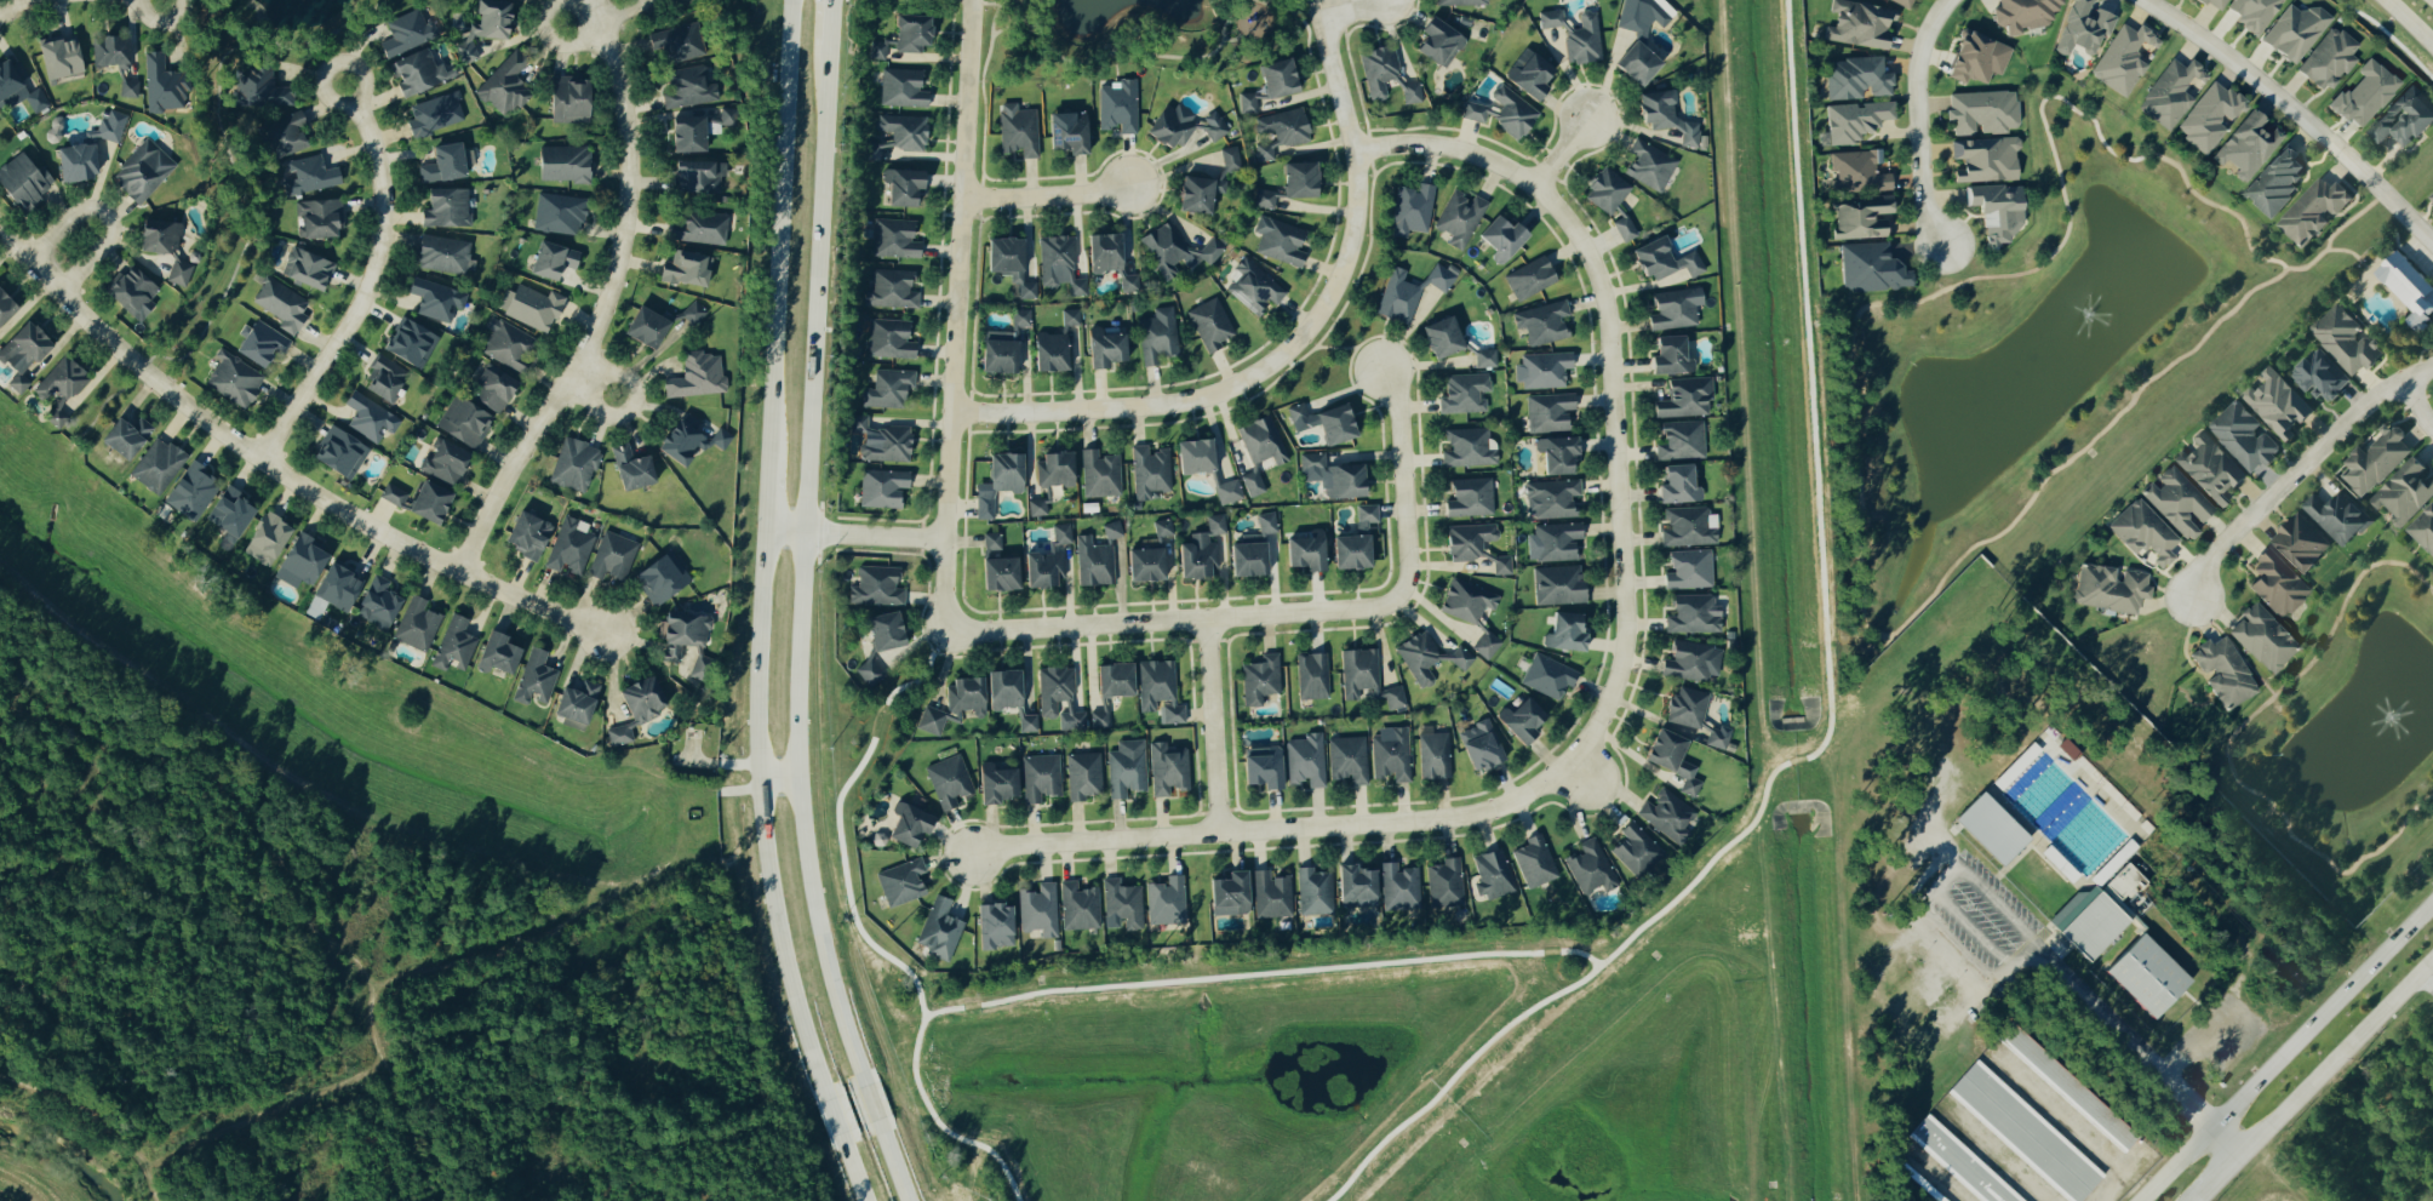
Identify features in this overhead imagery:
road: (155, 1)
building: (1461, 1)
building: (1904, 2)
road: (12, 4)
road: (1340, 4)
building: (2216, 4)
road: (595, 5)
road: (623, 10)
building: (2025, 13)
building: (2254, 13)
road: (578, 19)
road: (2410, 21)
building: (1860, 23)
building: (483, 27)
building: (2083, 27)
road: (794, 30)
road: (832, 30)
building: (2296, 30)
building: (406, 32)
building: (911, 33)
building: (1576, 34)
building: (1639, 36)
building: (1439, 41)
building: (677, 42)
building: (877, 48)
building: (110, 50)
building: (59, 57)
building: (1977, 57)
building: (2123, 58)
building: (2329, 58)
building: (1379, 69)
building: (417, 72)
building: (1529, 73)
building: (11, 75)
building: (1857, 76)
building: (1277, 78)
building: (161, 84)
building: (504, 84)
building: (259, 86)
building: (687, 86)
building: (128, 87)
building: (903, 87)
building: (1410, 91)
building: (2172, 91)
building: (2365, 93)
building: (568, 98)
building: (36, 99)
building: (1247, 102)
building: (1118, 105)
building: (1504, 111)
building: (1982, 111)
building: (435, 113)
road: (2294, 114)
building: (1665, 115)
building: (2210, 115)
building: (2404, 119)
road: (1917, 121)
building: (111, 125)
building: (1172, 125)
building: (1214, 126)
building: (1018, 128)
building: (904, 130)
building: (1067, 131)
building: (1280, 131)
building: (687, 133)
building: (285, 135)
building: (2248, 144)
building: (874, 149)
road: (1559, 154)
building: (1230, 158)
building: (1985, 159)
building: (75, 161)
building: (442, 162)
building: (563, 162)
building: (1650, 165)
building: (142, 170)
building: (1860, 170)
building: (310, 175)
building: (698, 176)
building: (1300, 178)
building: (22, 182)
building: (2275, 183)
building: (901, 185)
building: (1198, 193)
road: (1043, 195)
building: (1265, 198)
building: (1611, 199)
building: (2432, 202)
building: (445, 207)
building: (1412, 210)
building: (2313, 211)
building: (1997, 212)
road: (103, 213)
building: (559, 213)
building: (319, 217)
building: (1460, 217)
building: (1861, 217)
building: (700, 227)
building: (158, 236)
building: (894, 238)
building: (1501, 238)
building: (1280, 240)
building: (1164, 247)
building: (1210, 250)
building: (1104, 252)
building: (445, 253)
building: (551, 259)
building: (1664, 259)
building: (1009, 263)
building: (1059, 263)
building: (307, 268)
building: (685, 268)
building: (1872, 268)
building: (178, 271)
building: (1441, 276)
building: (1530, 278)
building: (1129, 282)
road: (366, 284)
building: (1253, 286)
building: (2409, 286)
building: (891, 288)
building: (132, 292)
building: (1398, 297)
building: (436, 298)
building: (281, 304)
building: (529, 305)
building: (5, 307)
road: (603, 307)
building: (1675, 308)
road: (954, 309)
building: (693, 311)
building: (1020, 316)
building: (1542, 322)
building: (1210, 324)
building: (645, 326)
building: (1158, 334)
building: (1442, 337)
building: (889, 338)
building: (2346, 339)
building: (261, 342)
building: (410, 343)
building: (506, 343)
road: (1295, 343)
building: (1054, 344)
building: (1106, 347)
building: (998, 350)
building: (22, 353)
building: (1671, 355)
building: (1485, 358)
building: (1544, 370)
building: (698, 374)
building: (2320, 376)
building: (383, 377)
building: (234, 378)
road: (1604, 378)
road: (591, 384)
building: (61, 387)
building: (888, 388)
building: (491, 389)
building: (1464, 393)
building: (1685, 396)
building: (2278, 404)
road: (2414, 404)
building: (1550, 411)
building: (1298, 412)
building: (370, 417)
building: (464, 422)
building: (1335, 424)
building: (125, 435)
building: (2244, 436)
building: (682, 437)
building: (720, 437)
building: (882, 440)
building: (1681, 440)
building: (1263, 442)
building: (1469, 447)
building: (338, 452)
building: (1557, 453)
building: (1195, 454)
building: (2376, 461)
building: (445, 462)
building: (156, 464)
building: (574, 464)
building: (630, 467)
building: (1054, 468)
building: (2210, 469)
road: (2296, 469)
road: (275, 470)
building: (1150, 471)
building: (1100, 473)
building: (1333, 475)
road: (1401, 480)
building: (998, 481)
building: (1253, 484)
building: (1678, 485)
building: (882, 487)
building: (191, 491)
building: (1229, 491)
building: (2404, 493)
building: (391, 494)
building: (1470, 497)
building: (1552, 498)
building: (428, 502)
building: (2179, 502)
building: (1037, 507)
building: (230, 514)
building: (1366, 515)
building: (2338, 517)
building: (1163, 527)
building: (1688, 527)
building: (2423, 528)
building: (1112, 530)
building: (2143, 532)
building: (1061, 533)
building: (527, 534)
road: (857, 536)
building: (267, 538)
building: (1553, 542)
building: (992, 543)
building: (2300, 544)
building: (569, 545)
building: (1476, 545)
building: (1252, 549)
building: (1201, 550)
building: (1351, 551)
building: (1306, 553)
building: (613, 556)
building: (299, 560)
building: (1094, 562)
building: (1145, 565)
building: (1043, 568)
building: (1689, 570)
building: (1000, 573)
road: (805, 576)
building: (660, 577)
road: (765, 583)
building: (1558, 584)
building: (2277, 584)
building: (337, 587)
building: (876, 587)
building: (2111, 588)
building: (377, 600)
building: (1466, 600)
building: (1694, 613)
road: (1172, 622)
building: (417, 623)
building: (885, 630)
building: (682, 631)
building: (1565, 633)
building: (2263, 639)
building: (454, 644)
building: (1487, 645)
building: (497, 654)
building: (1426, 657)
building: (1691, 660)
building: (870, 671)
building: (2223, 671)
building: (1312, 675)
building: (1548, 676)
building: (1260, 677)
building: (1367, 677)
building: (534, 679)
building: (1003, 688)
building: (1111, 688)
building: (1158, 690)
building: (964, 697)
building: (1059, 697)
building: (576, 702)
building: (636, 707)
building: (1687, 707)
building: (1522, 717)
building: (932, 720)
building: (1027, 722)
road: (1209, 727)
building: (1719, 736)
building: (1481, 743)
building: (1391, 751)
building: (1433, 753)
building: (1347, 757)
building: (1672, 757)
building: (1305, 759)
building: (1263, 764)
building: (1126, 766)
building: (1168, 767)
building: (1083, 773)
road: (782, 776)
building: (1040, 776)
building: (949, 779)
building: (996, 782)
building: (1666, 812)
building: (909, 822)
building: (1992, 827)
road: (1273, 829)
building: (1636, 848)
building: (1535, 859)
building: (1591, 867)
building: (1492, 873)
road: (1948, 877)
building: (901, 881)
building: (1446, 881)
building: (1356, 885)
building: (1399, 885)
building: (1315, 890)
building: (1229, 892)
building: (1271, 893)
building: (1166, 899)
building: (1123, 902)
road: (1999, 903)
building: (1078, 904)
building: (1038, 908)
building: (2090, 920)
building: (995, 923)
building: (939, 928)
road: (1973, 930)
road: (2023, 954)
building: (2148, 973)
park: (357, 983)
road: (2421, 991)
road: (2137, 1048)
road: (2285, 1051)
road: (2313, 1079)
road: (871, 1102)
park: (2393, 1102)
road: (835, 1116)
building: (2026, 1131)
river: (65, 1153)
road: (893, 1160)
building: (1962, 1161)
road: (854, 1167)
road: (2120, 1179)

